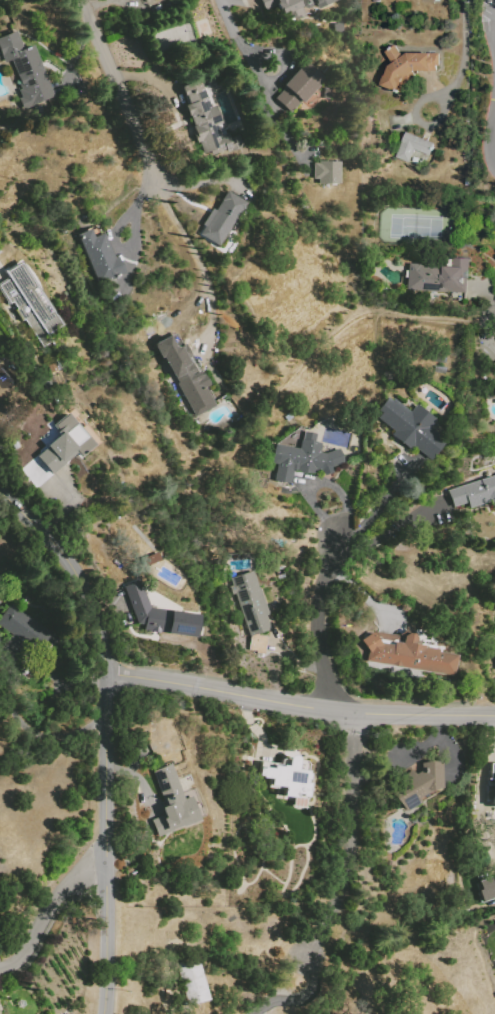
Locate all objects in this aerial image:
building: (132, 0)
building: (136, 0)
building: (376, 0)
building: (322, 2)
building: (307, 3)
building: (285, 8)
road: (230, 26)
building: (337, 28)
road: (462, 48)
building: (407, 67)
building: (29, 70)
road: (264, 79)
building: (299, 86)
road: (120, 92)
road: (279, 122)
road: (417, 122)
building: (207, 123)
road: (489, 143)
building: (415, 146)
building: (327, 174)
building: (221, 218)
building: (101, 261)
road: (201, 264)
building: (439, 278)
building: (31, 304)
road: (492, 311)
road: (488, 328)
building: (189, 382)
building: (410, 427)
building: (67, 440)
building: (304, 460)
building: (38, 465)
building: (473, 493)
road: (379, 503)
road: (388, 531)
building: (250, 609)
building: (158, 614)
road: (319, 625)
building: (26, 629)
building: (411, 651)
road: (299, 705)
road: (105, 734)
road: (42, 736)
building: (492, 776)
building: (287, 777)
building: (414, 786)
building: (493, 790)
building: (172, 804)
road: (145, 816)
road: (350, 836)
building: (486, 888)
road: (48, 912)
building: (192, 981)
road: (302, 998)

